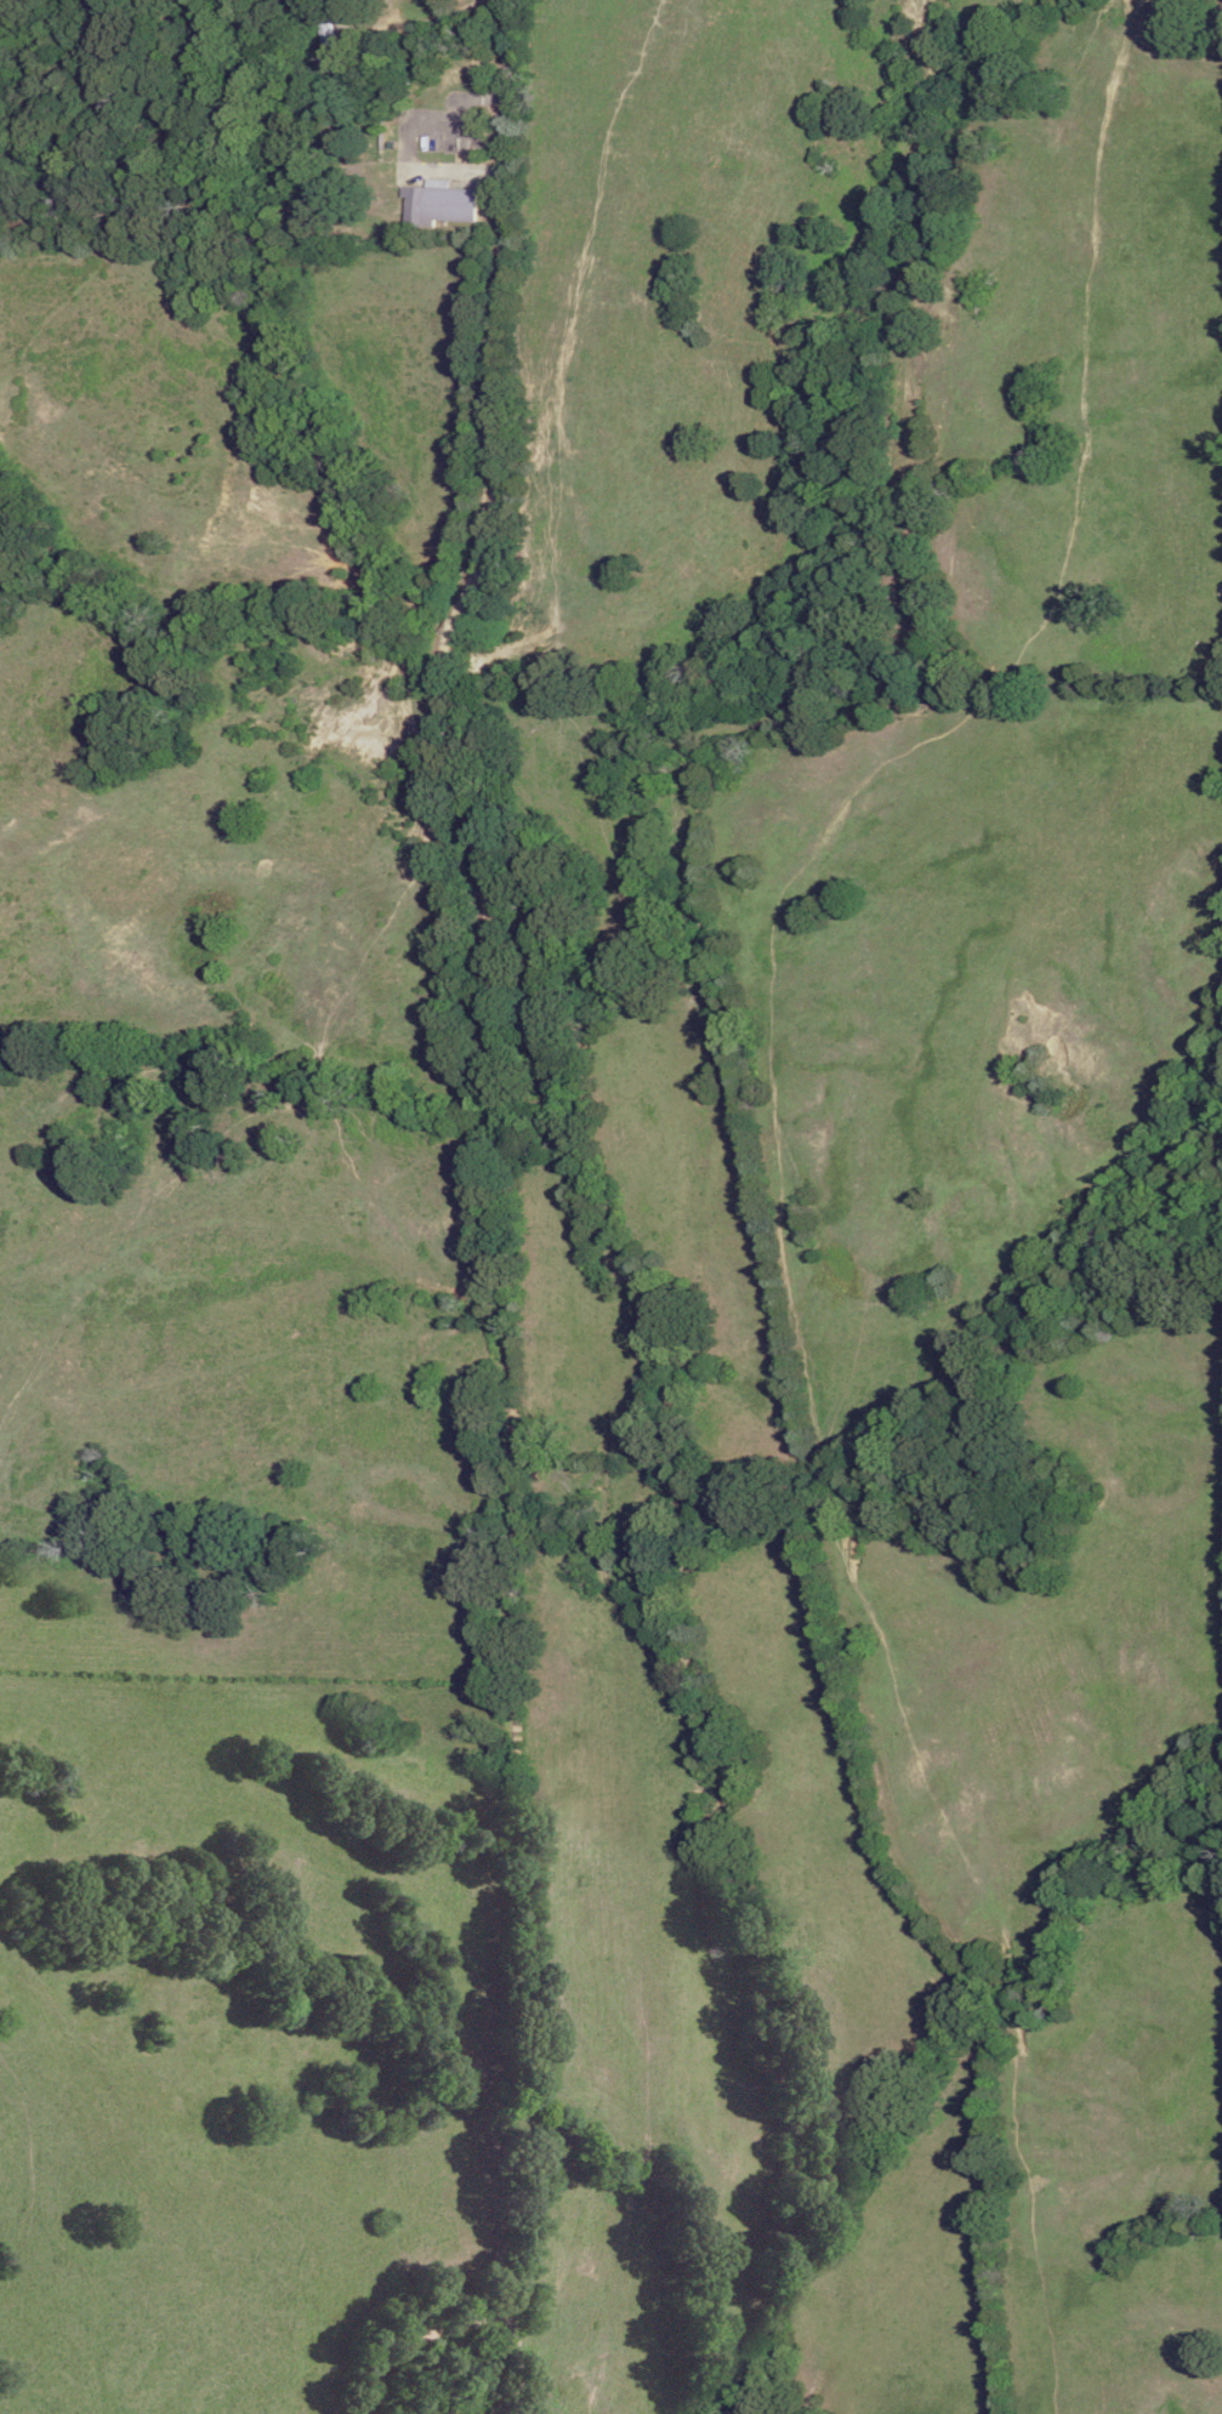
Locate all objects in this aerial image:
building: (328, 32)
building: (438, 201)
road: (502, 1245)

